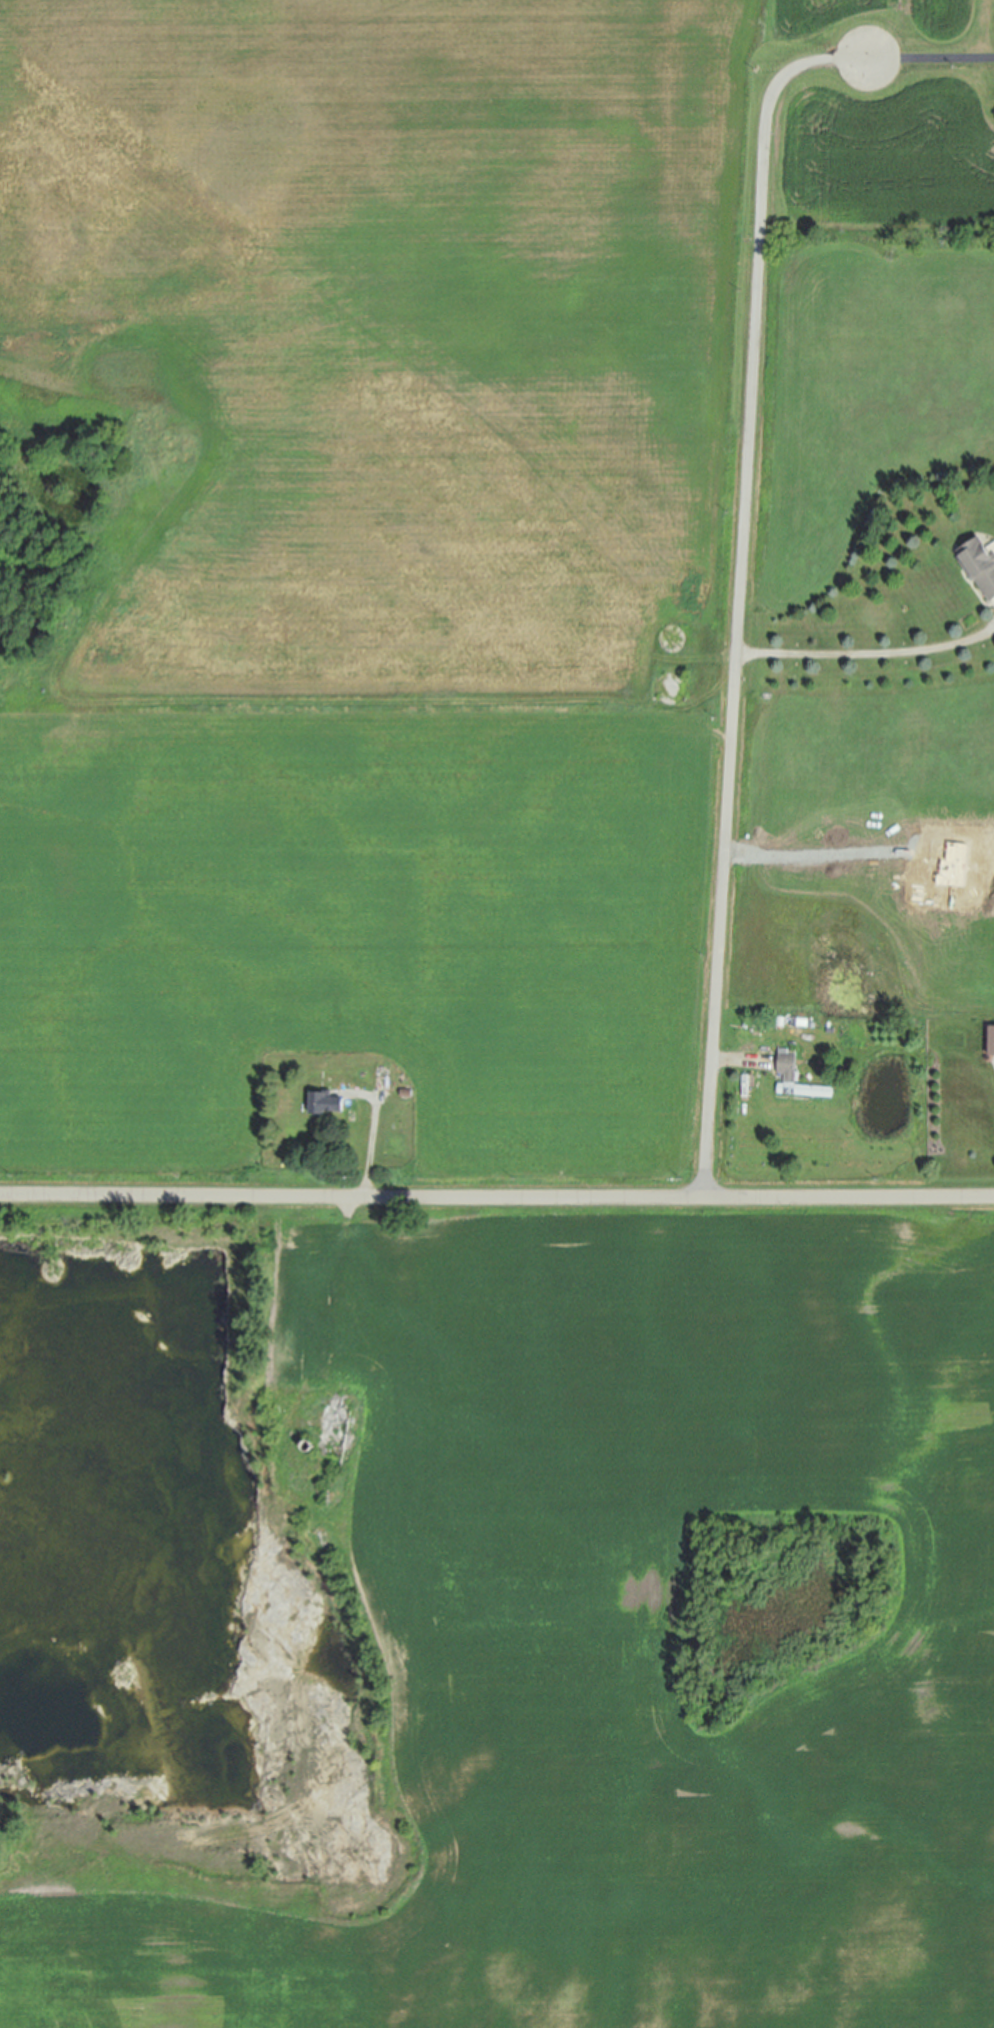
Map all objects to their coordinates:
road: (874, 57)
building: (979, 562)
road: (739, 649)
road: (867, 652)
building: (992, 1040)
building: (791, 1077)
building: (326, 1102)
road: (375, 1132)
road: (496, 1198)
building: (298, 1322)
building: (335, 1432)
building: (309, 1446)

